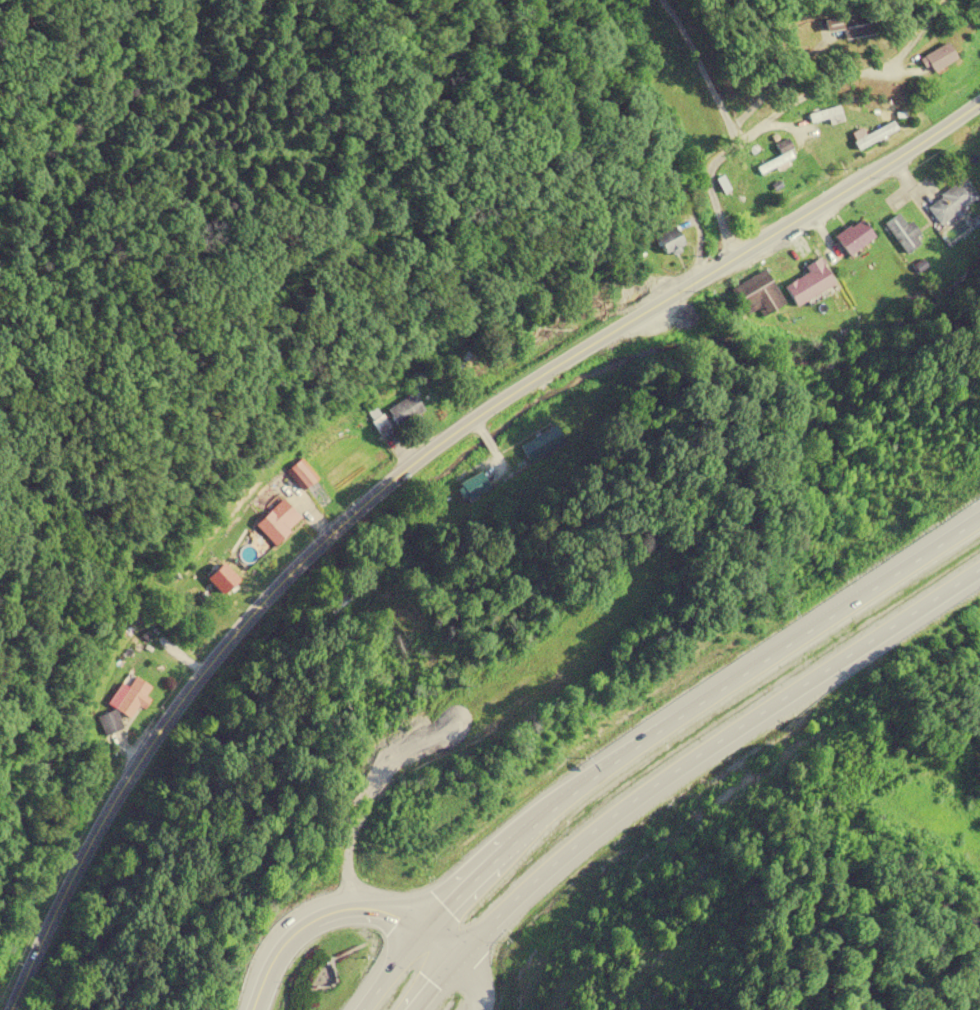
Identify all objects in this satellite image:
building: (975, 16)
building: (854, 25)
building: (941, 57)
building: (673, 87)
road: (803, 90)
building: (824, 116)
road: (731, 122)
building: (686, 134)
building: (873, 135)
building: (744, 193)
building: (951, 202)
building: (902, 230)
building: (854, 236)
building: (670, 239)
building: (809, 282)
building: (757, 296)
road: (248, 400)
building: (405, 409)
road: (502, 430)
building: (541, 444)
road: (404, 466)
building: (299, 476)
building: (471, 487)
building: (277, 522)
building: (108, 722)
road: (650, 738)
road: (683, 770)
road: (336, 912)
traffic signals: (420, 937)
traffic signals: (454, 968)
road: (471, 985)

